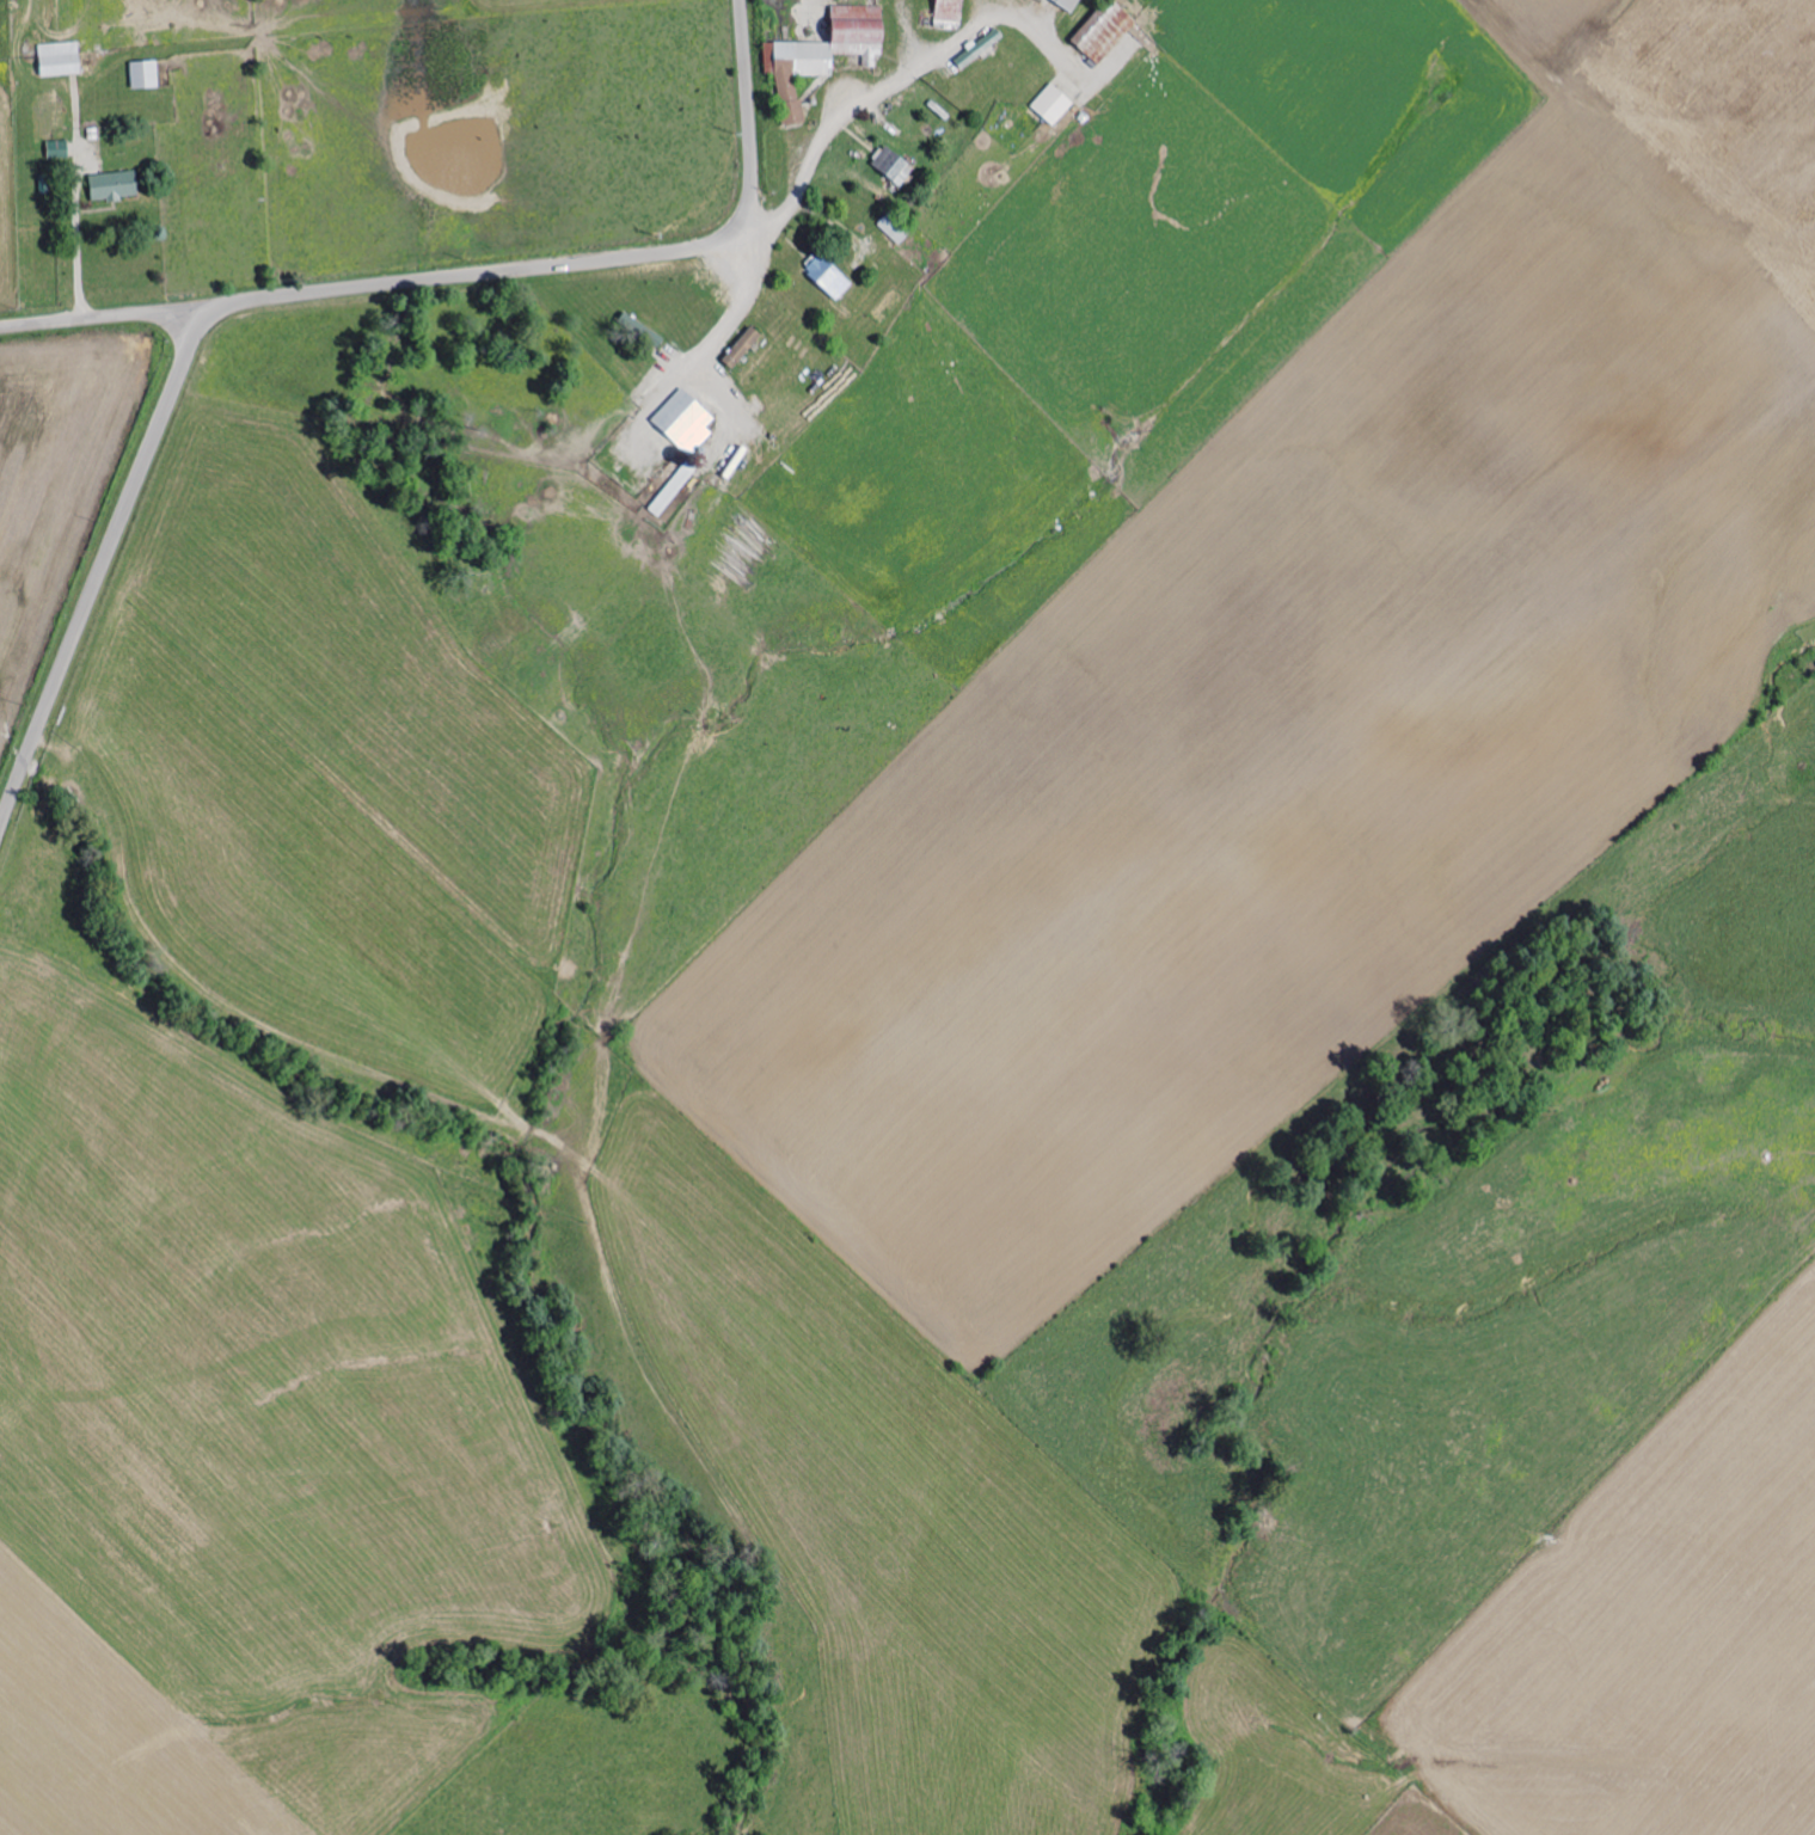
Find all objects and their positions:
building: (1073, 2)
building: (951, 13)
building: (1108, 32)
building: (981, 47)
building: (61, 57)
building: (821, 60)
building: (146, 74)
road: (912, 78)
building: (1055, 103)
building: (59, 149)
building: (894, 162)
building: (116, 184)
road: (75, 244)
building: (830, 276)
road: (311, 294)
road: (105, 318)
road: (728, 330)
building: (744, 346)
building: (688, 421)

